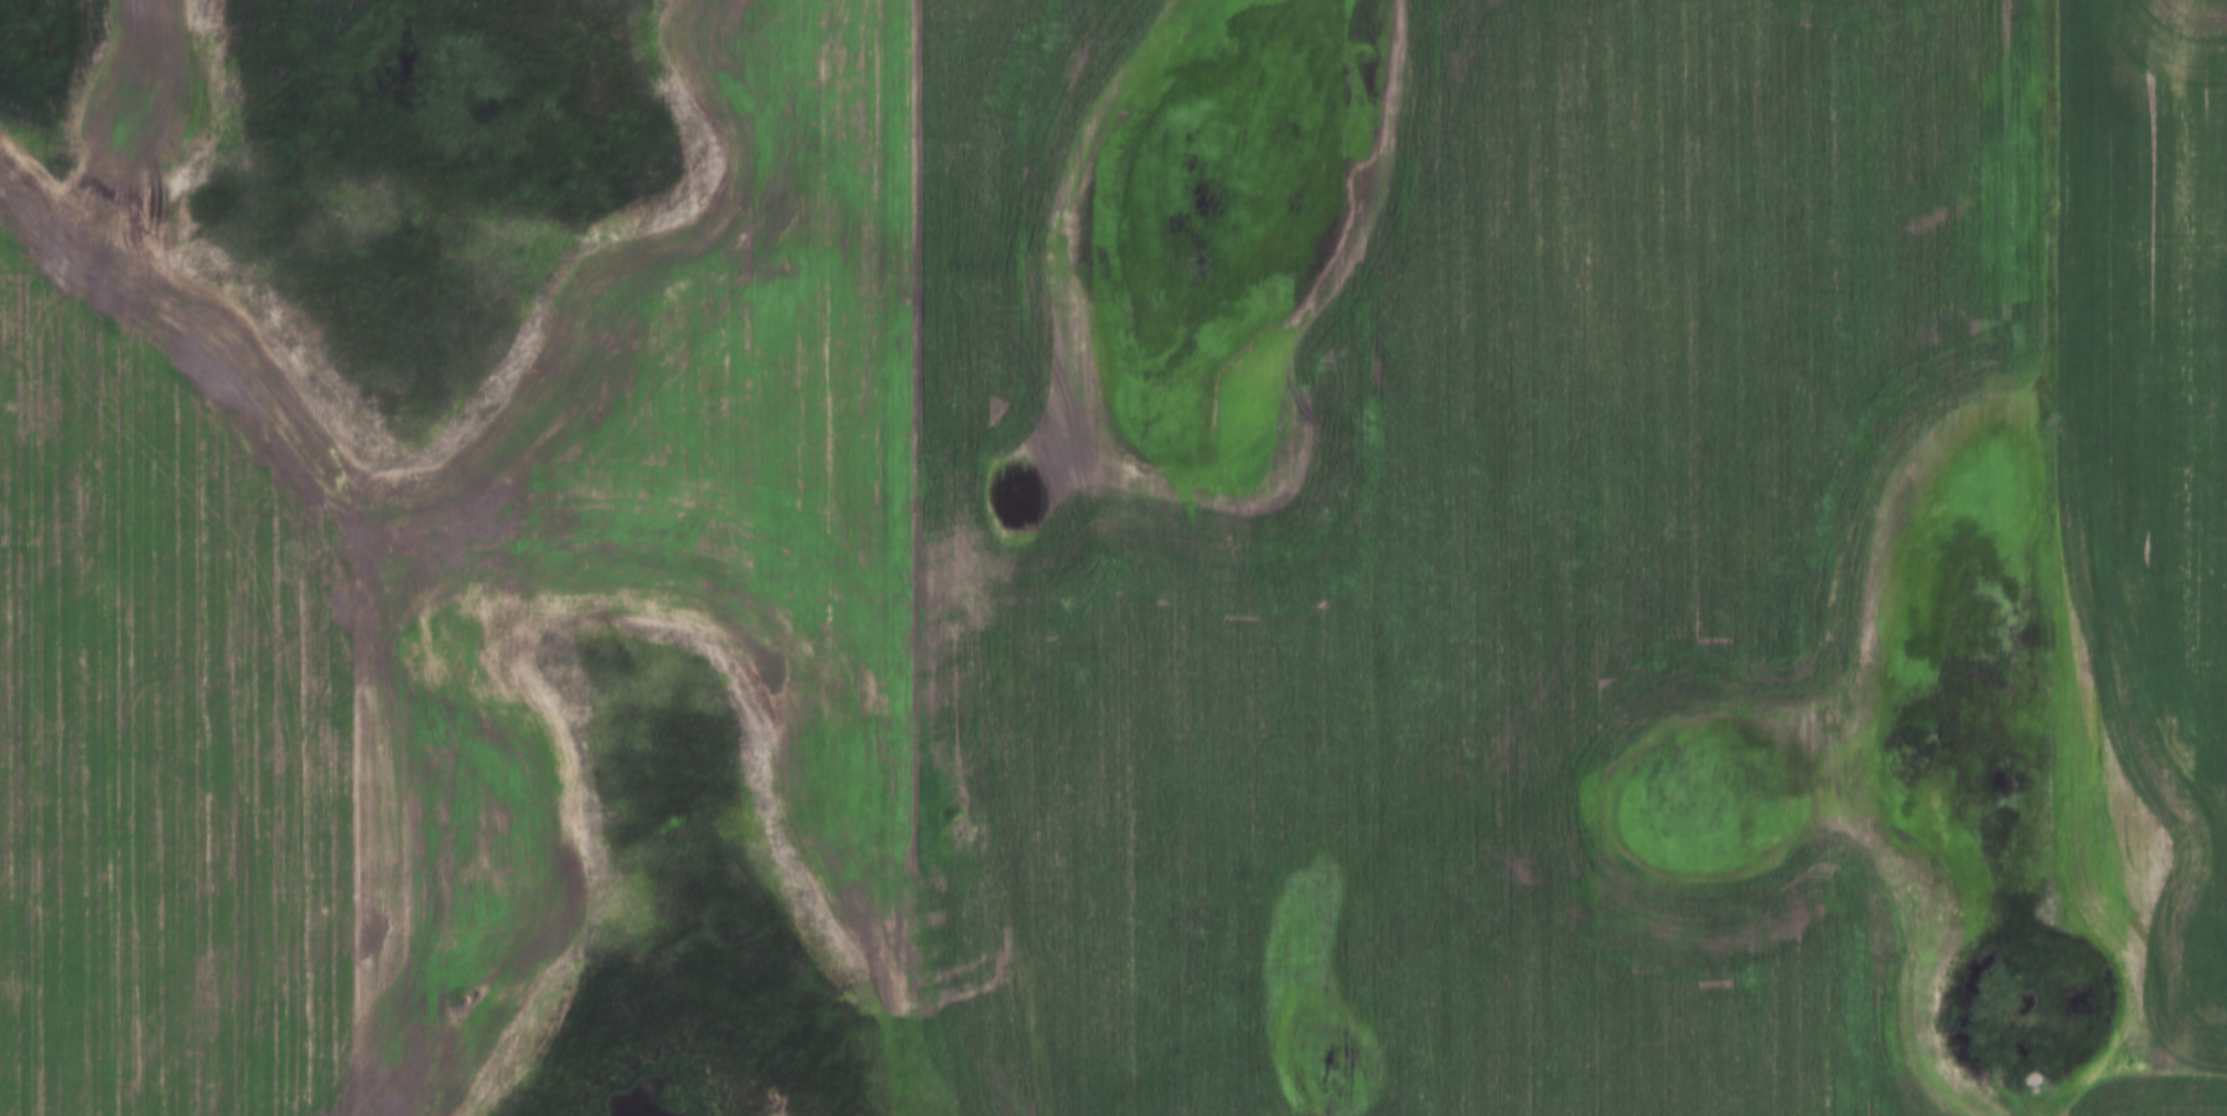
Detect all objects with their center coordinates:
road: (2061, 571)

